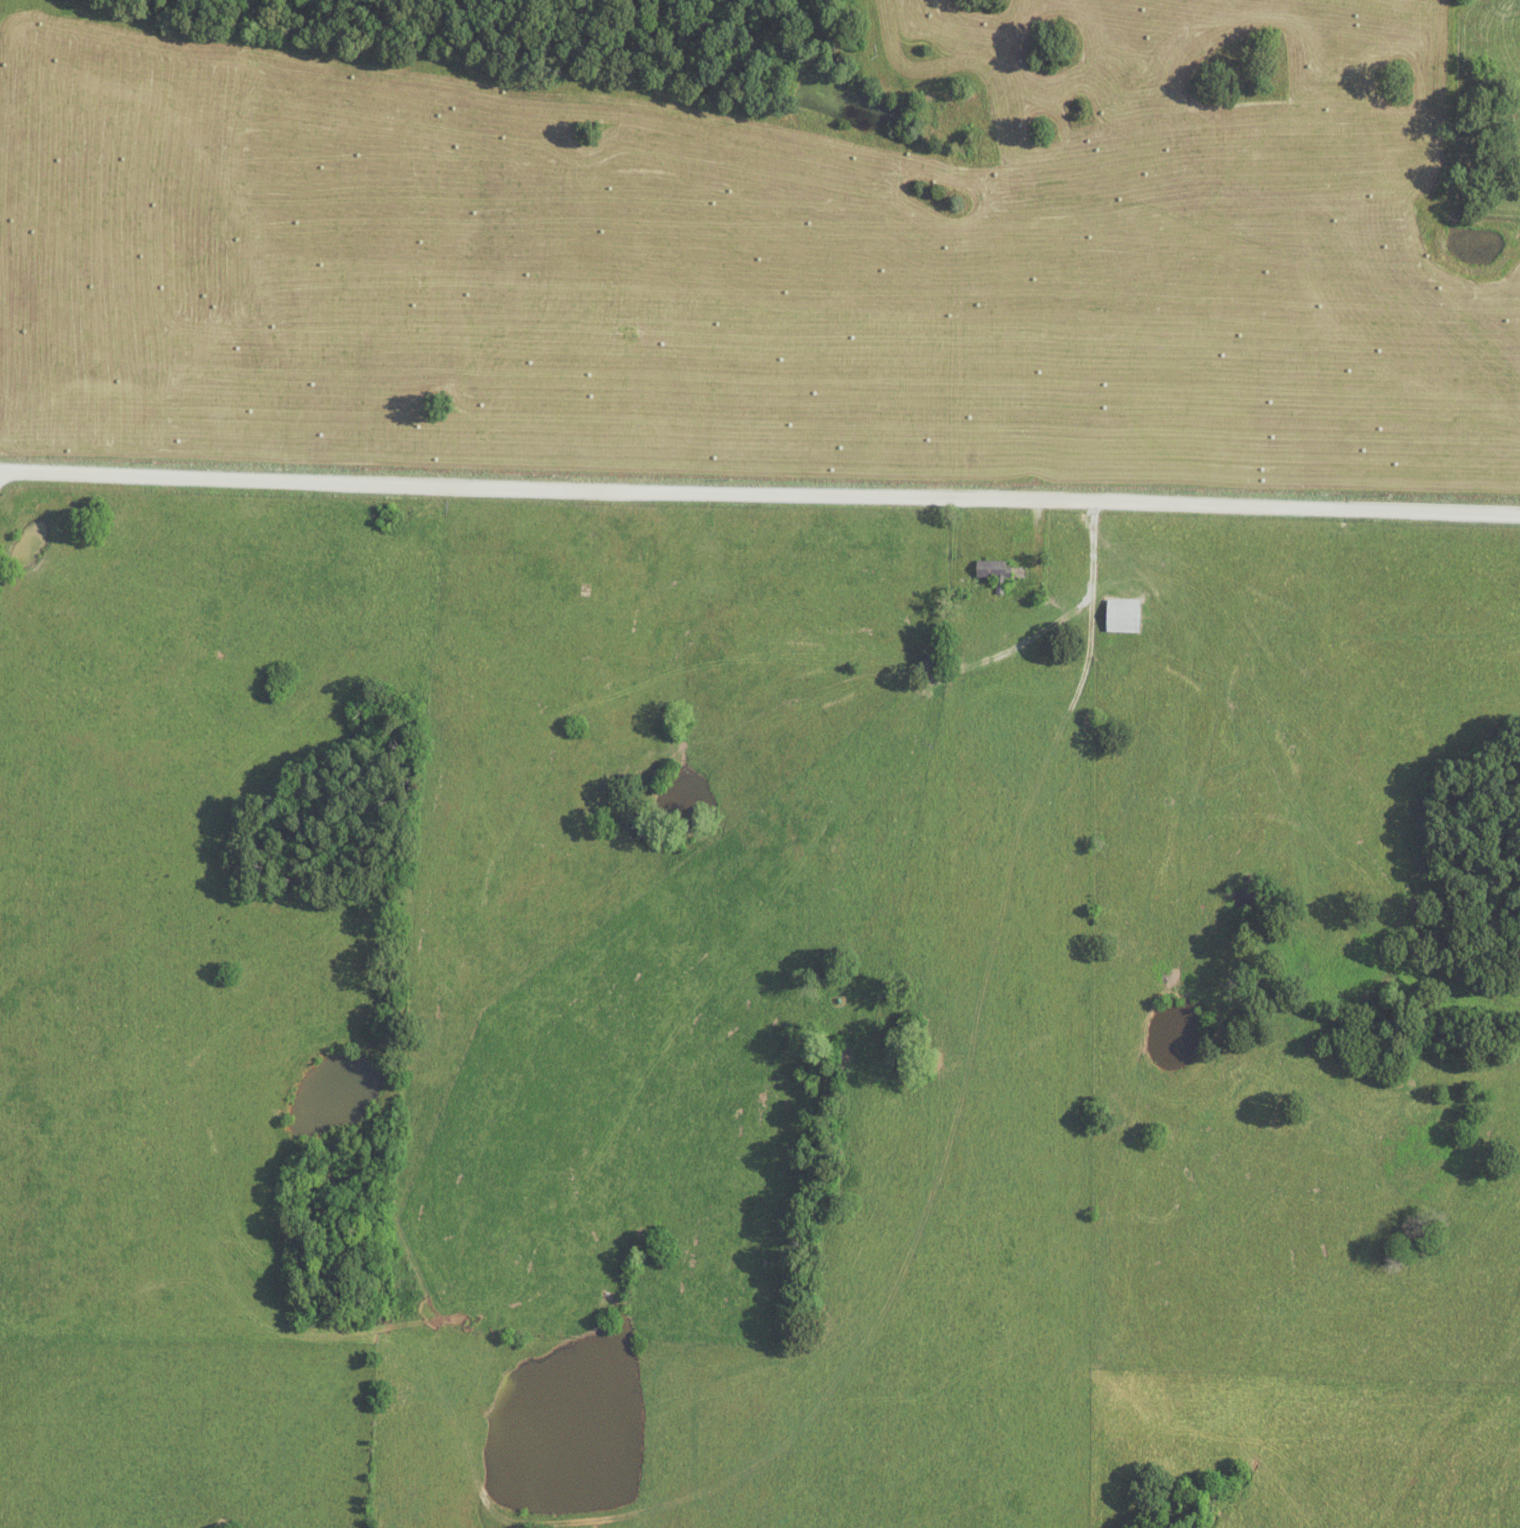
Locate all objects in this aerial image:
road: (759, 496)
building: (993, 572)
building: (1122, 615)
road: (1080, 1211)

